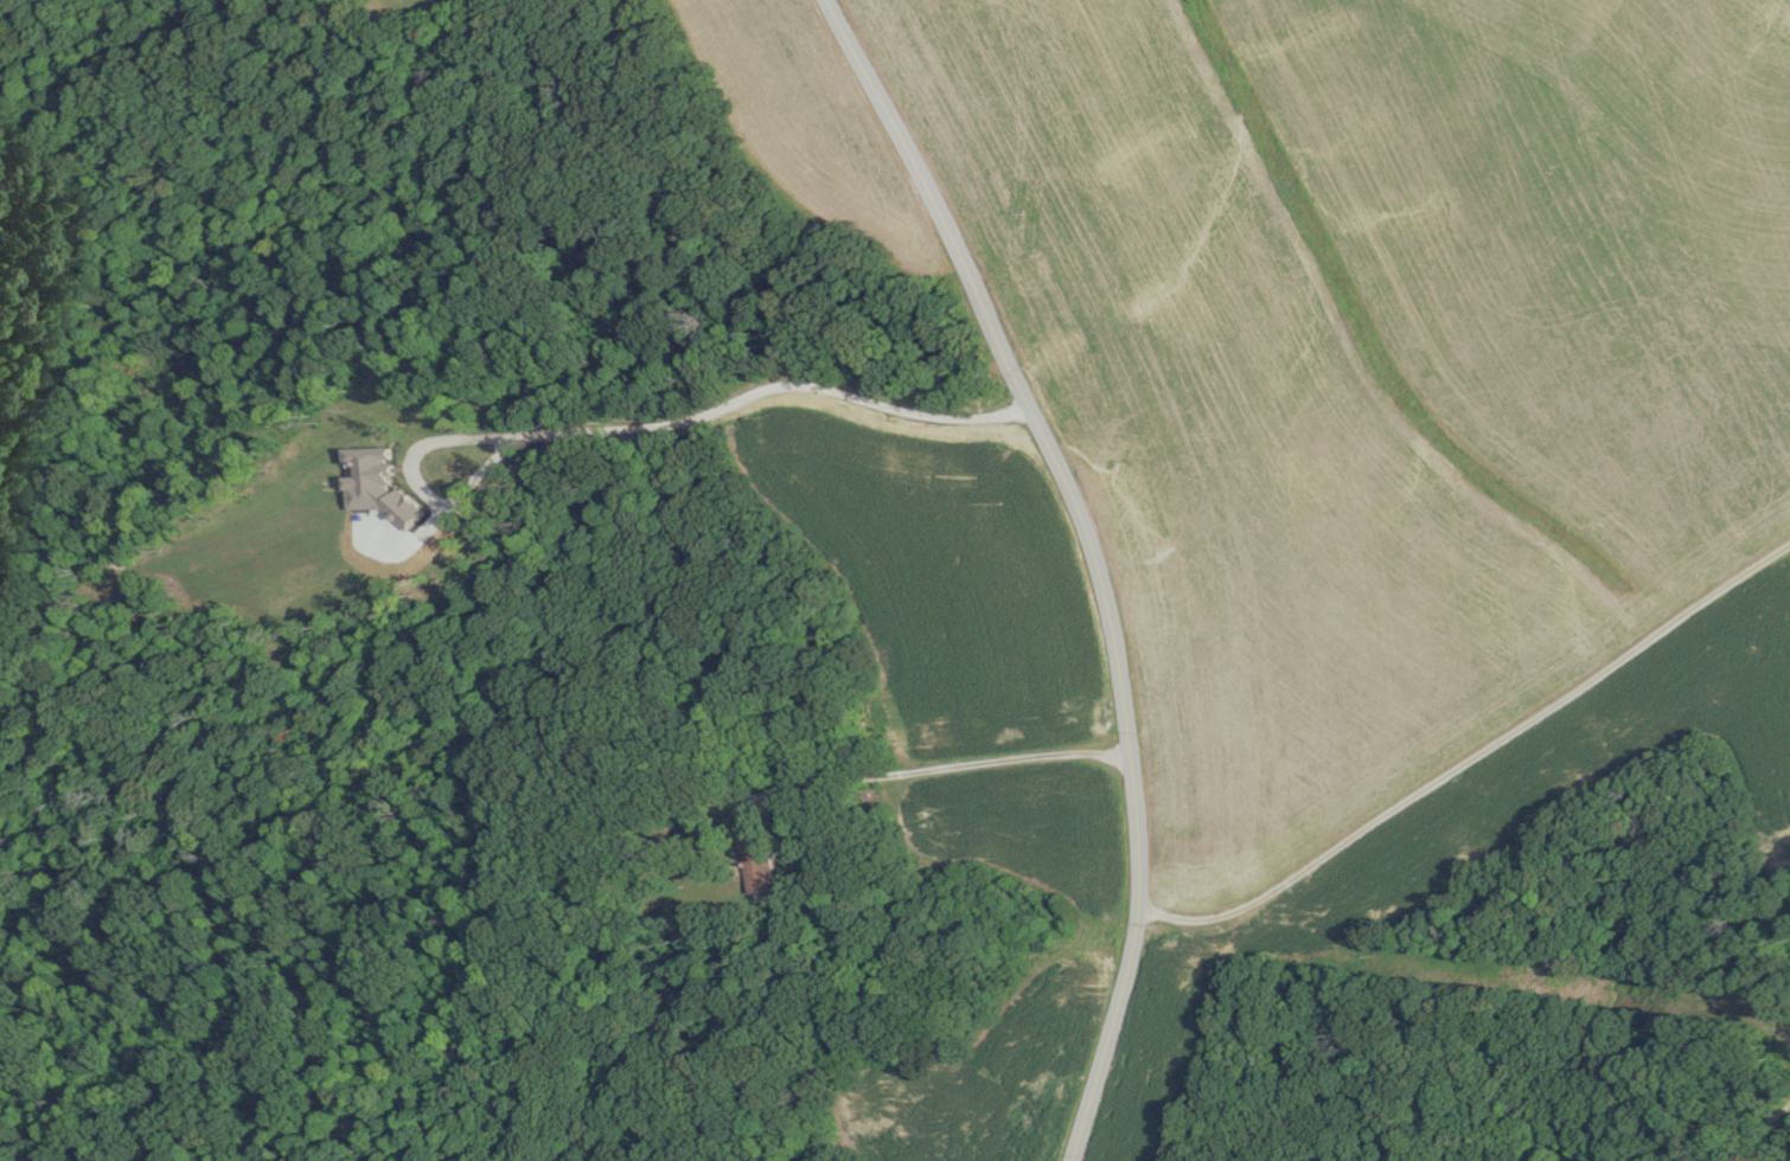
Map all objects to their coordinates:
road: (634, 424)
road: (1088, 556)
road: (1471, 757)
road: (932, 770)
building: (760, 860)

